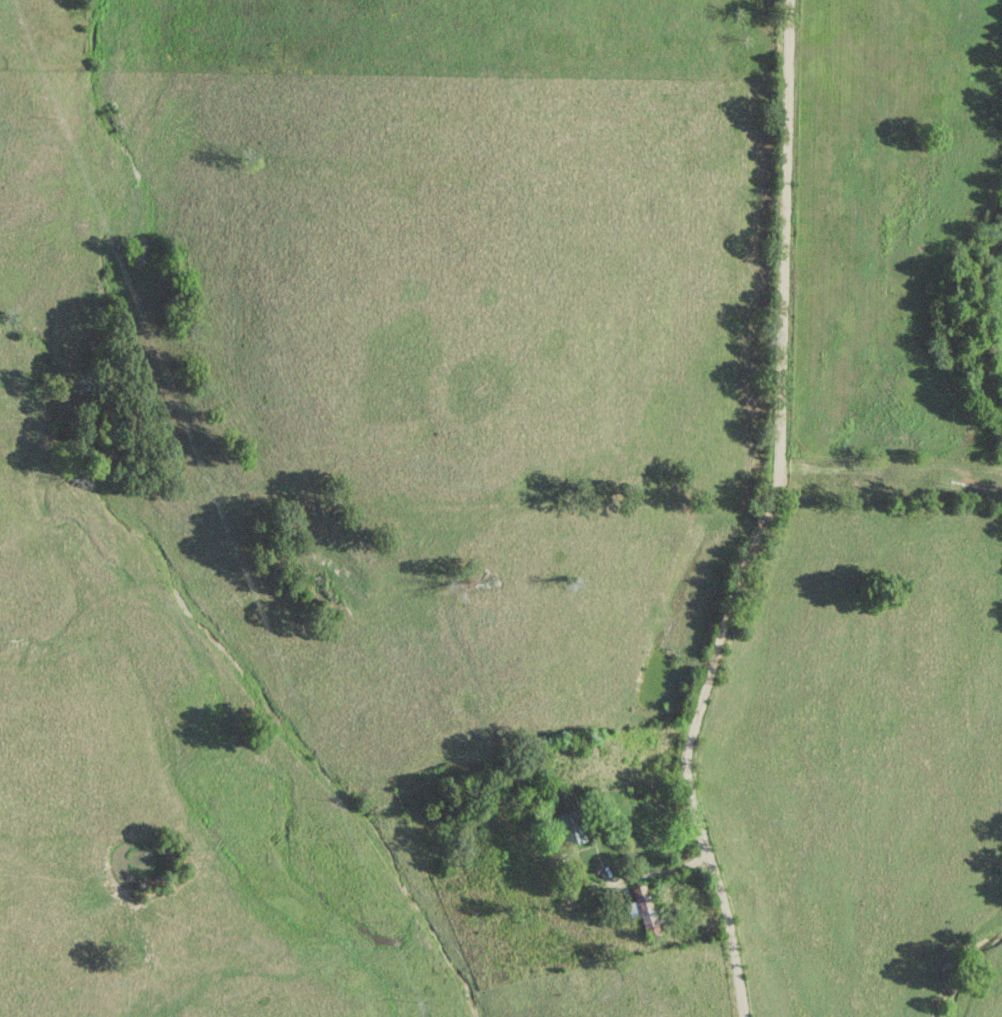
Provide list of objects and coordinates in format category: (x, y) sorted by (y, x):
road: (754, 512)

